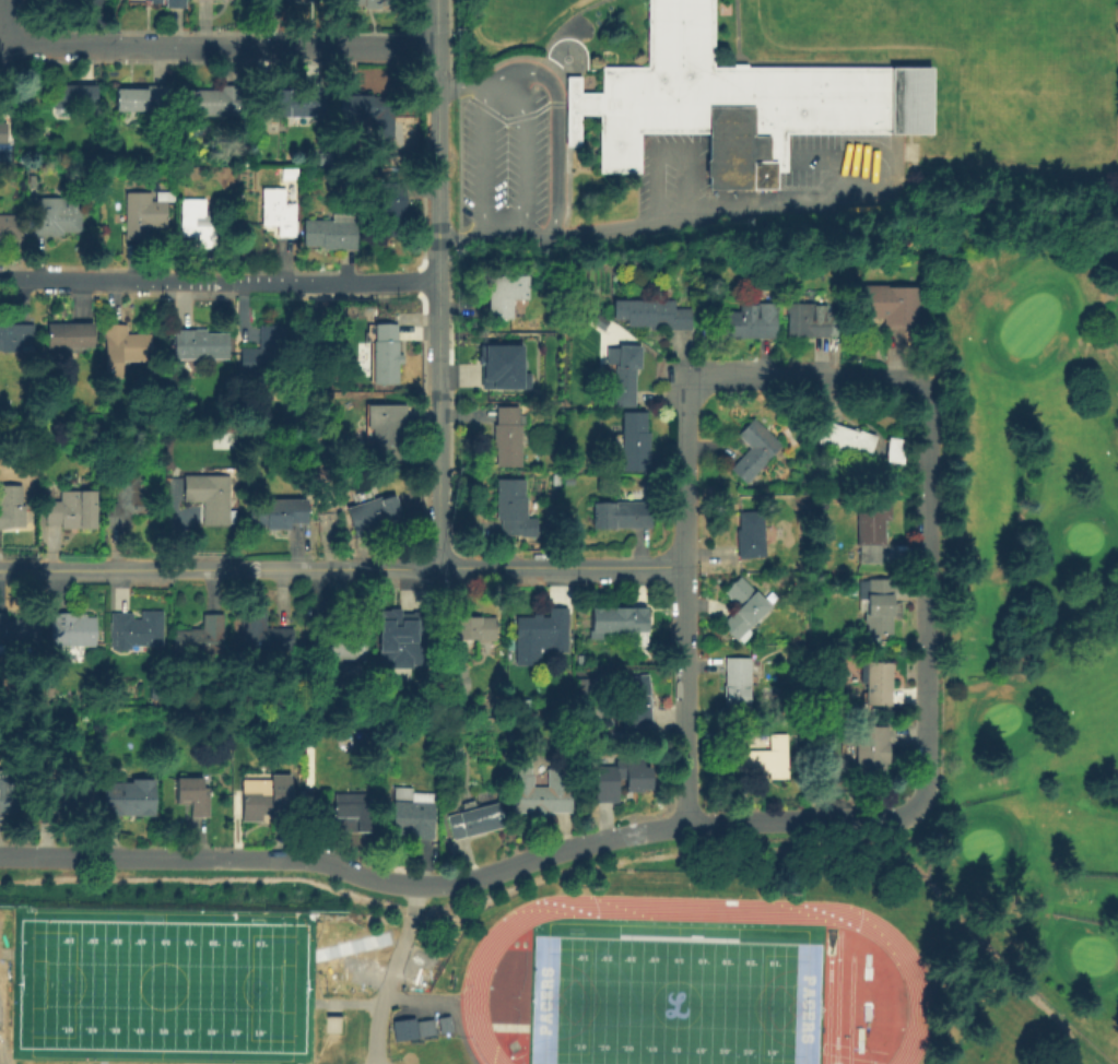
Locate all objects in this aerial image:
building: (58, 0)
building: (231, 0)
building: (154, 1)
building: (176, 3)
building: (372, 3)
park: (944, 14)
road: (560, 23)
road: (733, 31)
road: (515, 39)
road: (216, 45)
flagpole: (566, 59)
road: (561, 86)
building: (75, 97)
road: (554, 97)
building: (142, 99)
building: (737, 102)
building: (212, 103)
building: (294, 104)
building: (367, 113)
building: (409, 126)
building: (2, 139)
road: (528, 143)
road: (672, 153)
parking lot: (824, 155)
road: (820, 159)
road: (486, 162)
parking lot: (506, 162)
road: (897, 166)
parking lot: (673, 170)
building: (290, 175)
building: (34, 193)
building: (389, 210)
building: (278, 212)
building: (144, 214)
building: (55, 221)
building: (198, 224)
road: (622, 225)
building: (9, 227)
building: (331, 233)
road: (217, 279)
road: (435, 283)
building: (682, 288)
building: (505, 295)
building: (891, 306)
building: (652, 315)
building: (805, 320)
building: (750, 322)
park: (1027, 323)
building: (70, 335)
building: (16, 338)
building: (200, 345)
building: (123, 348)
building: (266, 354)
building: (385, 354)
building: (509, 366)
building: (625, 374)
road: (808, 379)
building: (514, 400)
building: (385, 427)
building: (508, 438)
building: (847, 441)
building: (635, 442)
building: (755, 451)
building: (556, 480)
building: (172, 487)
building: (208, 498)
building: (125, 504)
building: (11, 507)
building: (511, 507)
building: (72, 511)
building: (278, 513)
building: (374, 515)
building: (623, 516)
building: (871, 530)
building: (748, 534)
park: (1081, 537)
road: (340, 568)
park: (1031, 594)
road: (680, 596)
road: (921, 600)
building: (739, 606)
building: (879, 607)
building: (616, 622)
building: (70, 630)
building: (137, 630)
building: (474, 630)
building: (17, 631)
building: (544, 631)
building: (263, 635)
building: (408, 637)
building: (200, 638)
building: (339, 641)
building: (581, 660)
building: (517, 662)
building: (457, 682)
building: (738, 683)
building: (875, 683)
building: (634, 702)
building: (525, 705)
park: (999, 718)
building: (870, 749)
building: (764, 757)
building: (622, 779)
building: (10, 792)
building: (542, 793)
building: (192, 796)
building: (80, 799)
building: (129, 799)
building: (267, 800)
building: (345, 814)
building: (413, 814)
building: (475, 820)
park: (980, 844)
road: (457, 879)
park: (1091, 955)
road: (388, 972)
track: (471, 980)
park: (160, 984)
park: (160, 984)
road: (420, 995)
park: (672, 1001)
building: (445, 1025)
building: (423, 1027)
building: (402, 1029)
road: (4, 1055)

